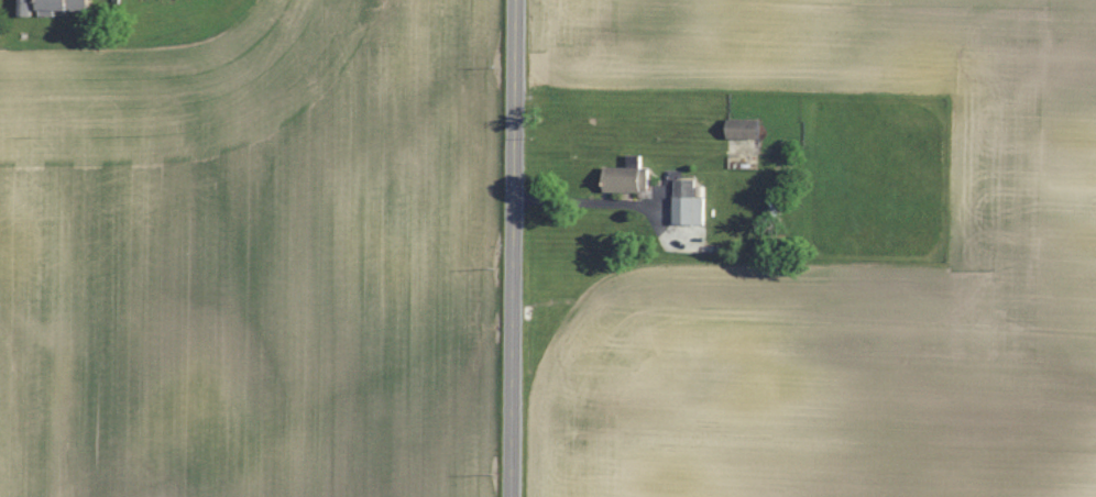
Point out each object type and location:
building: (55, 7)
building: (745, 130)
building: (628, 178)
road: (583, 202)
building: (689, 203)
road: (513, 247)

